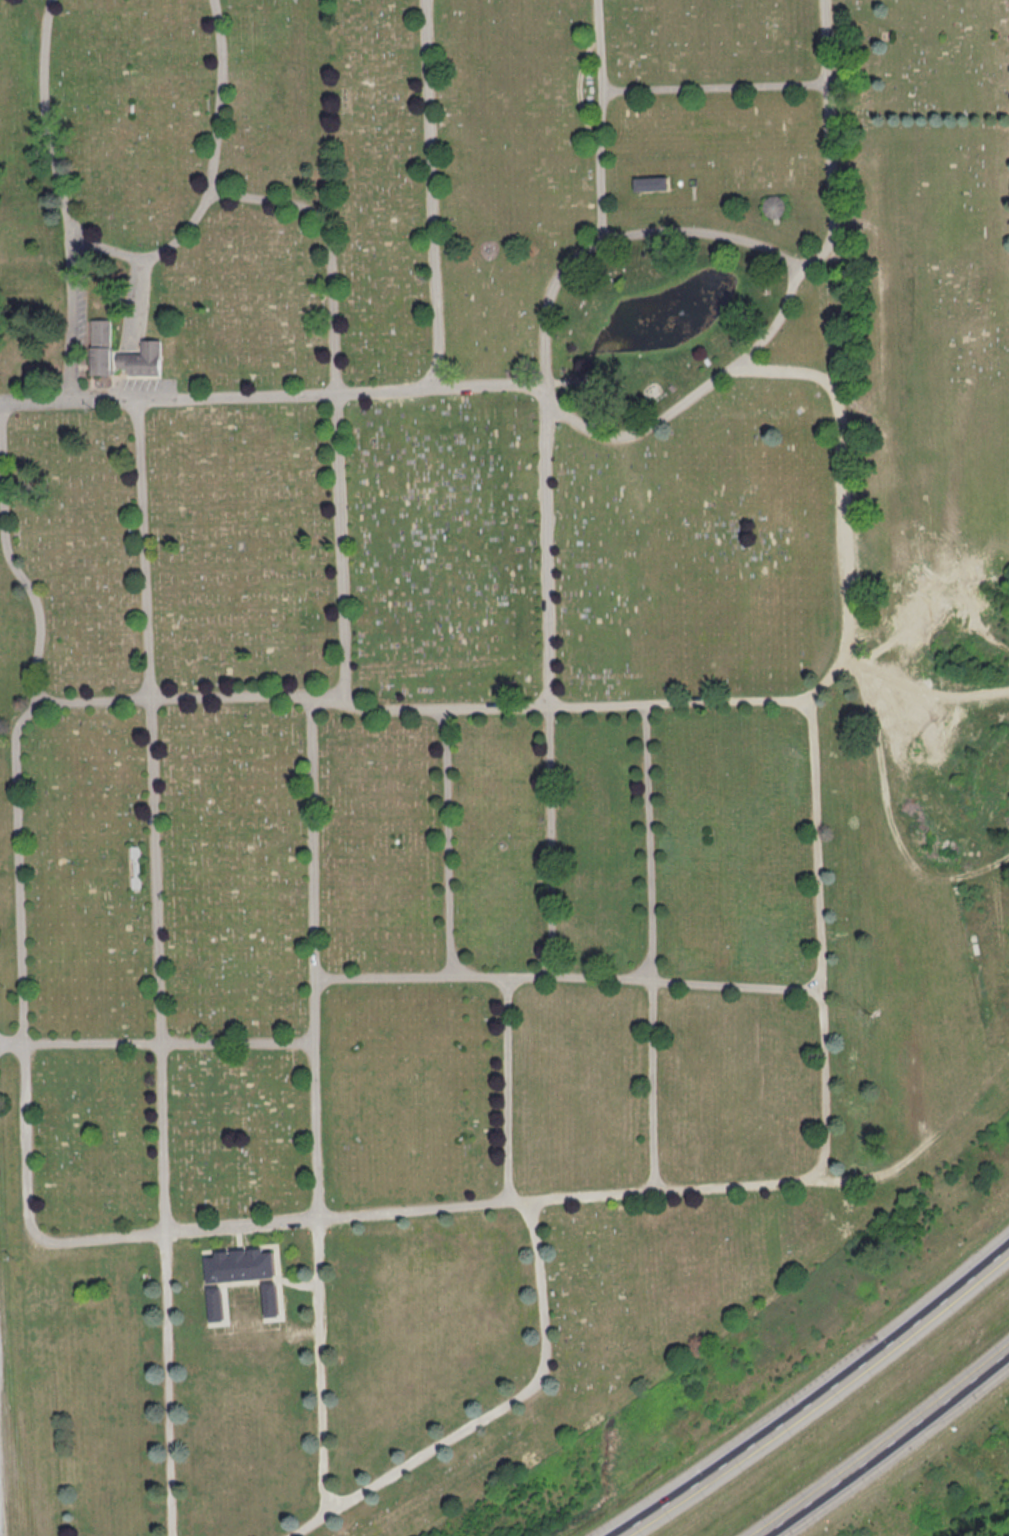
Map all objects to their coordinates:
road: (715, 87)
road: (580, 90)
road: (601, 121)
road: (829, 142)
building: (650, 183)
road: (433, 195)
building: (772, 205)
road: (131, 256)
road: (136, 301)
road: (74, 315)
building: (122, 353)
road: (543, 369)
building: (575, 382)
parking lot: (143, 388)
road: (334, 396)
road: (546, 409)
road: (8, 555)
park: (483, 709)
road: (811, 733)
road: (447, 841)
building: (135, 867)
road: (651, 946)
road: (157, 966)
road: (567, 976)
road: (157, 1042)
road: (23, 1054)
road: (507, 1087)
road: (315, 1105)
road: (238, 1235)
building: (239, 1264)
road: (299, 1285)
building: (269, 1298)
building: (214, 1303)
road: (820, 1400)
road: (494, 1410)
road: (892, 1450)

